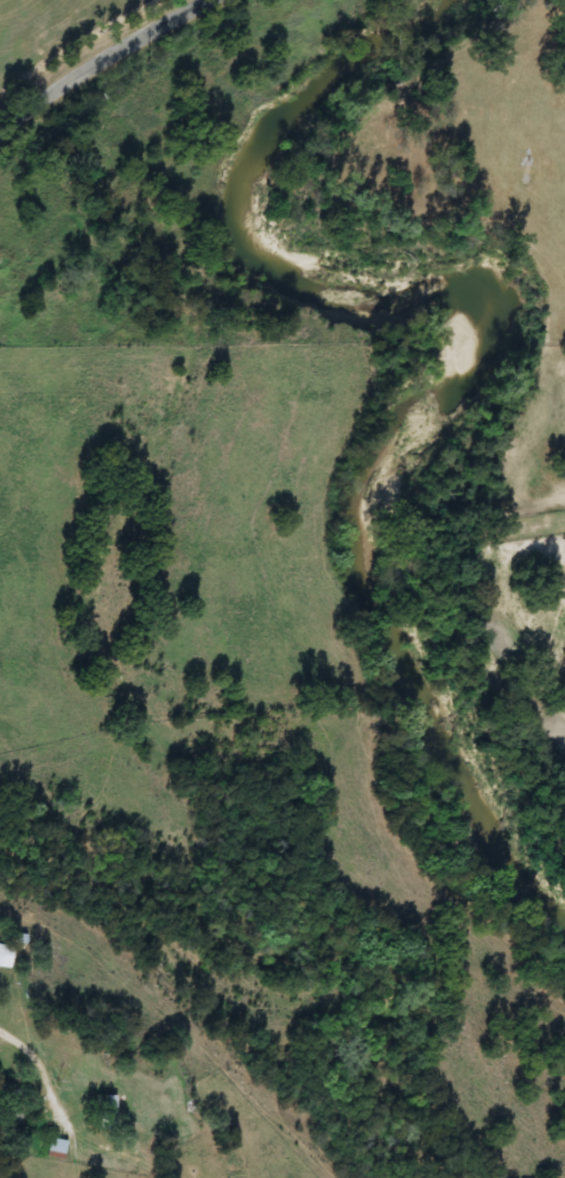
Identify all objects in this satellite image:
crop: (57, 37)
road: (95, 58)
crop: (497, 486)
building: (6, 955)
road: (46, 1087)
building: (107, 1111)
building: (57, 1149)

